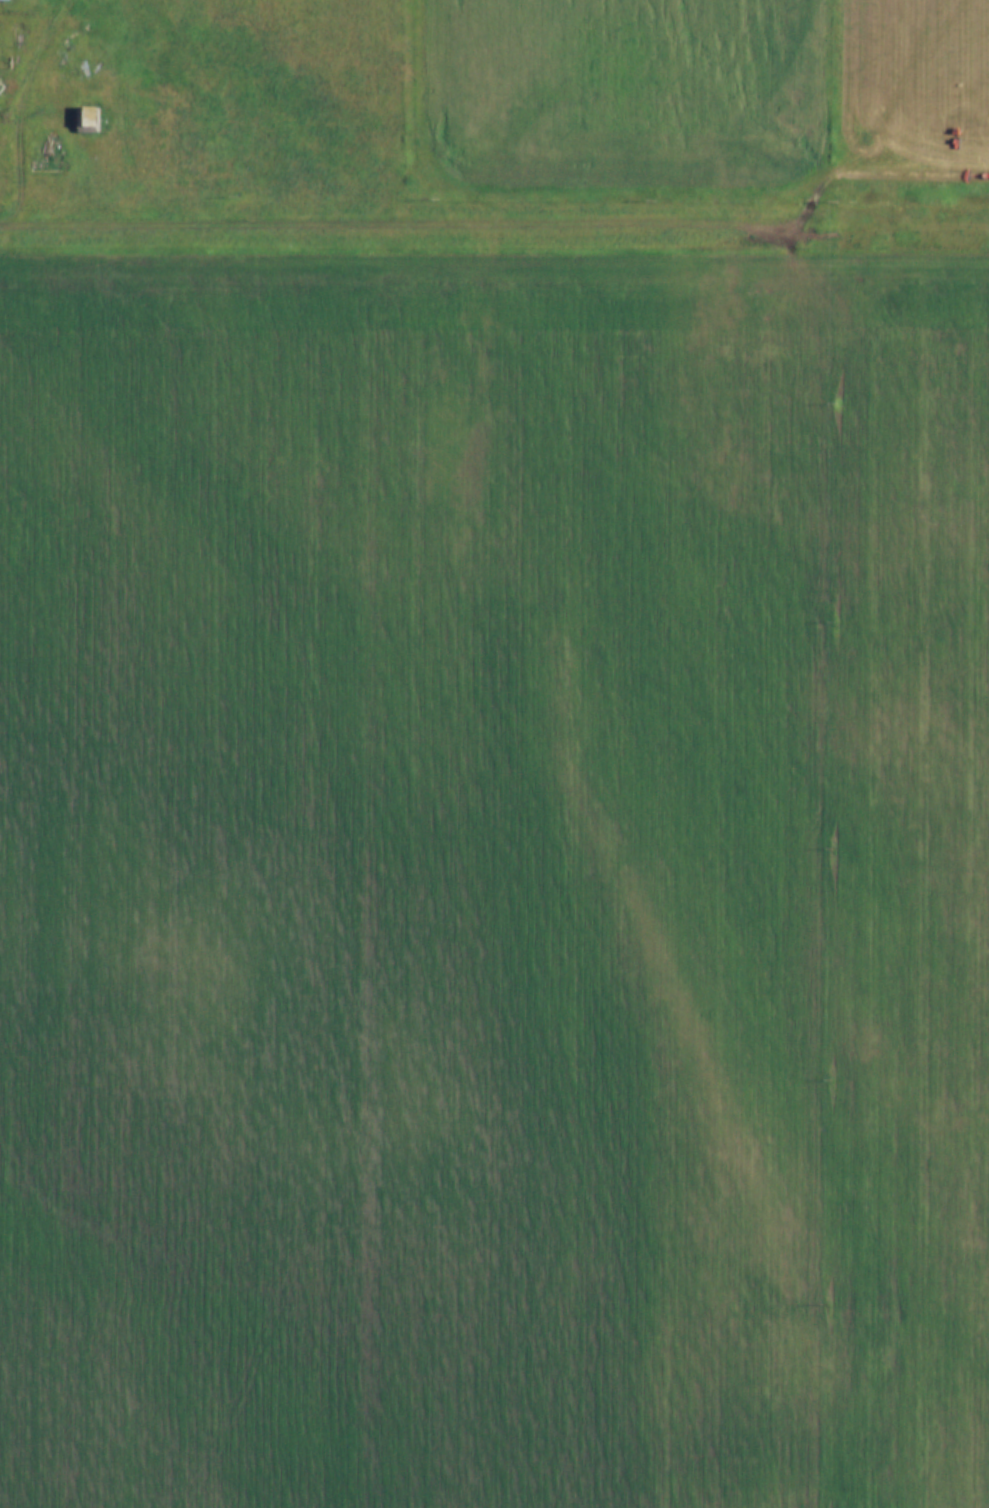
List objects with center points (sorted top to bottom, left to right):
building: (11, 27)
building: (83, 108)
building: (73, 116)
road: (21, 131)
road: (494, 225)

